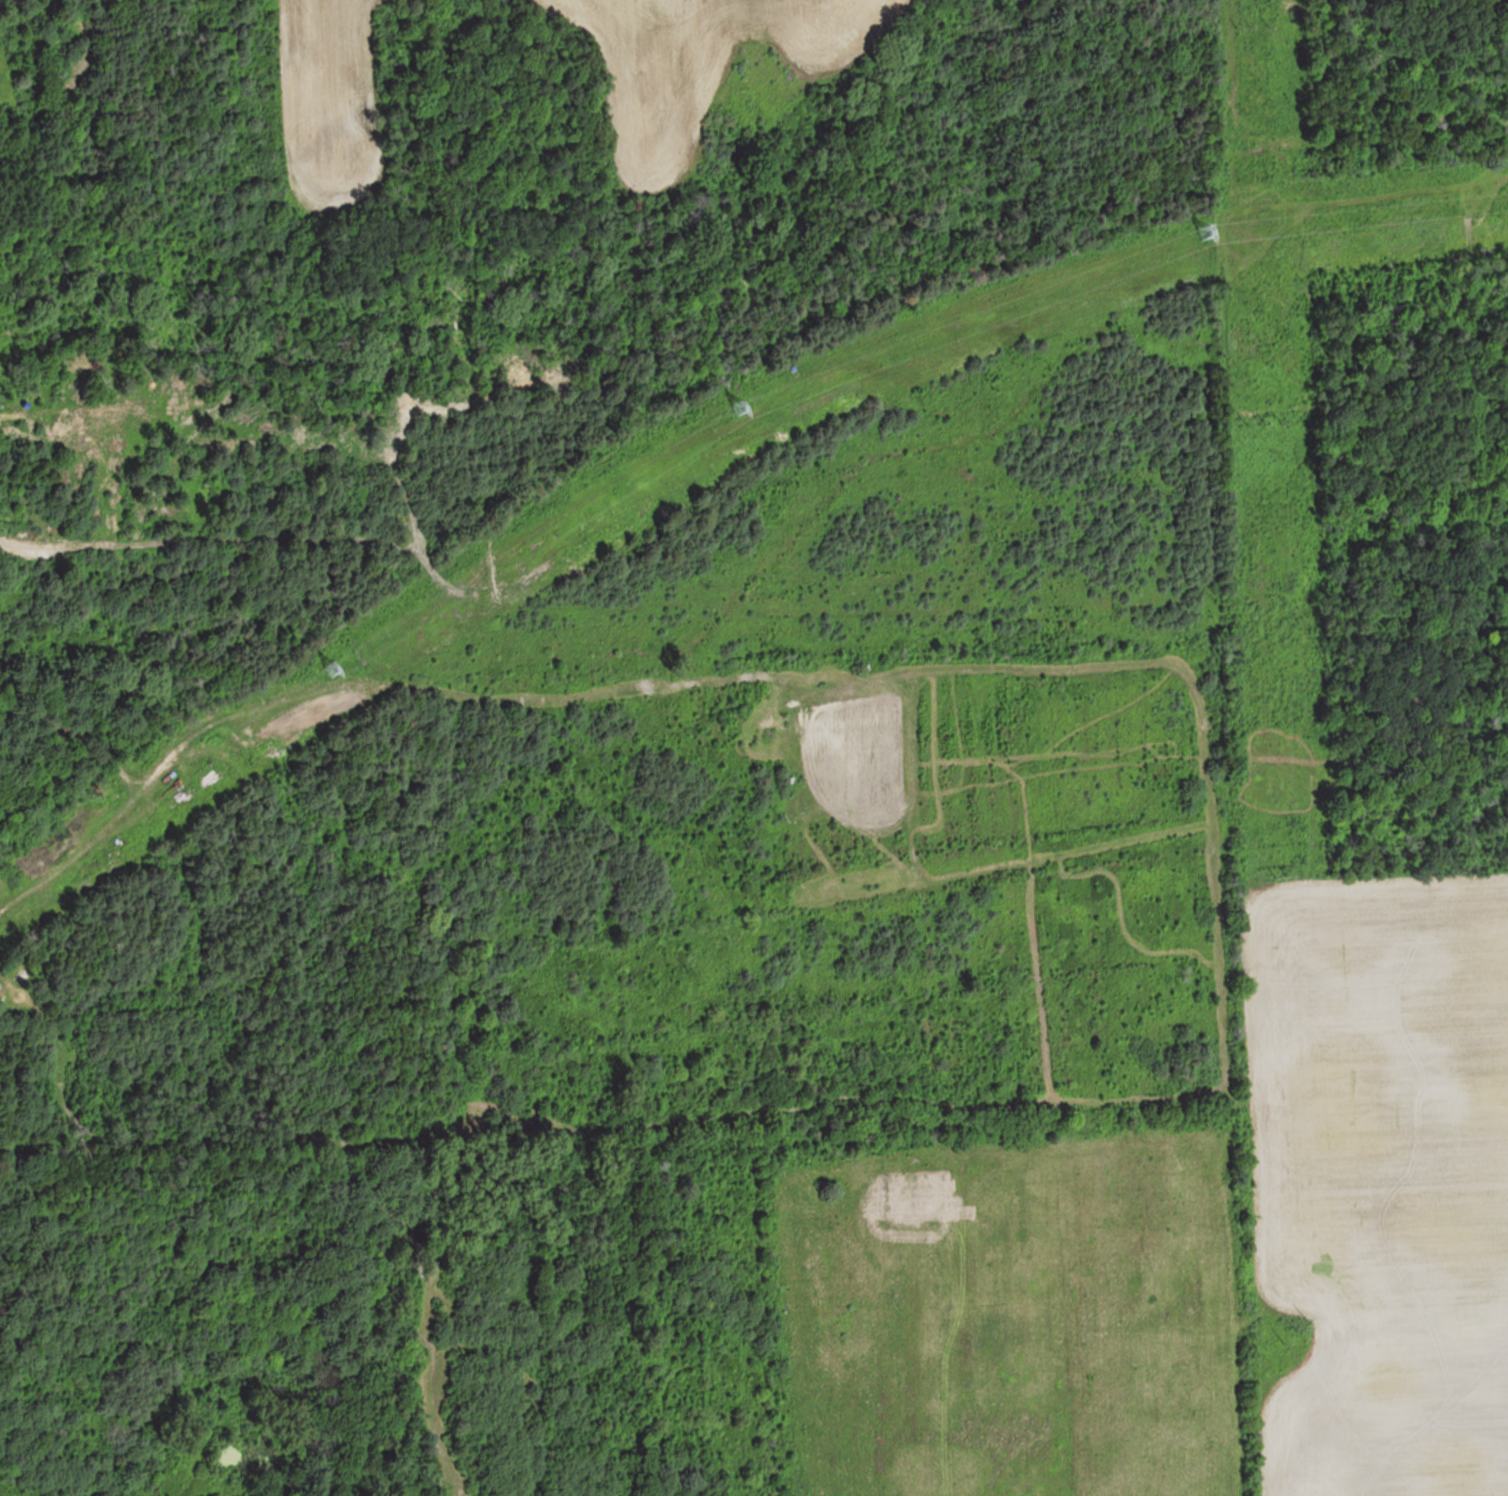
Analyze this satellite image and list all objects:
power tower: (1254, 24)
power tower: (1210, 232)
power tower: (745, 404)
power tower: (1271, 425)
power tower: (336, 667)
power tower: (1279, 875)
power tower: (1292, 1327)

